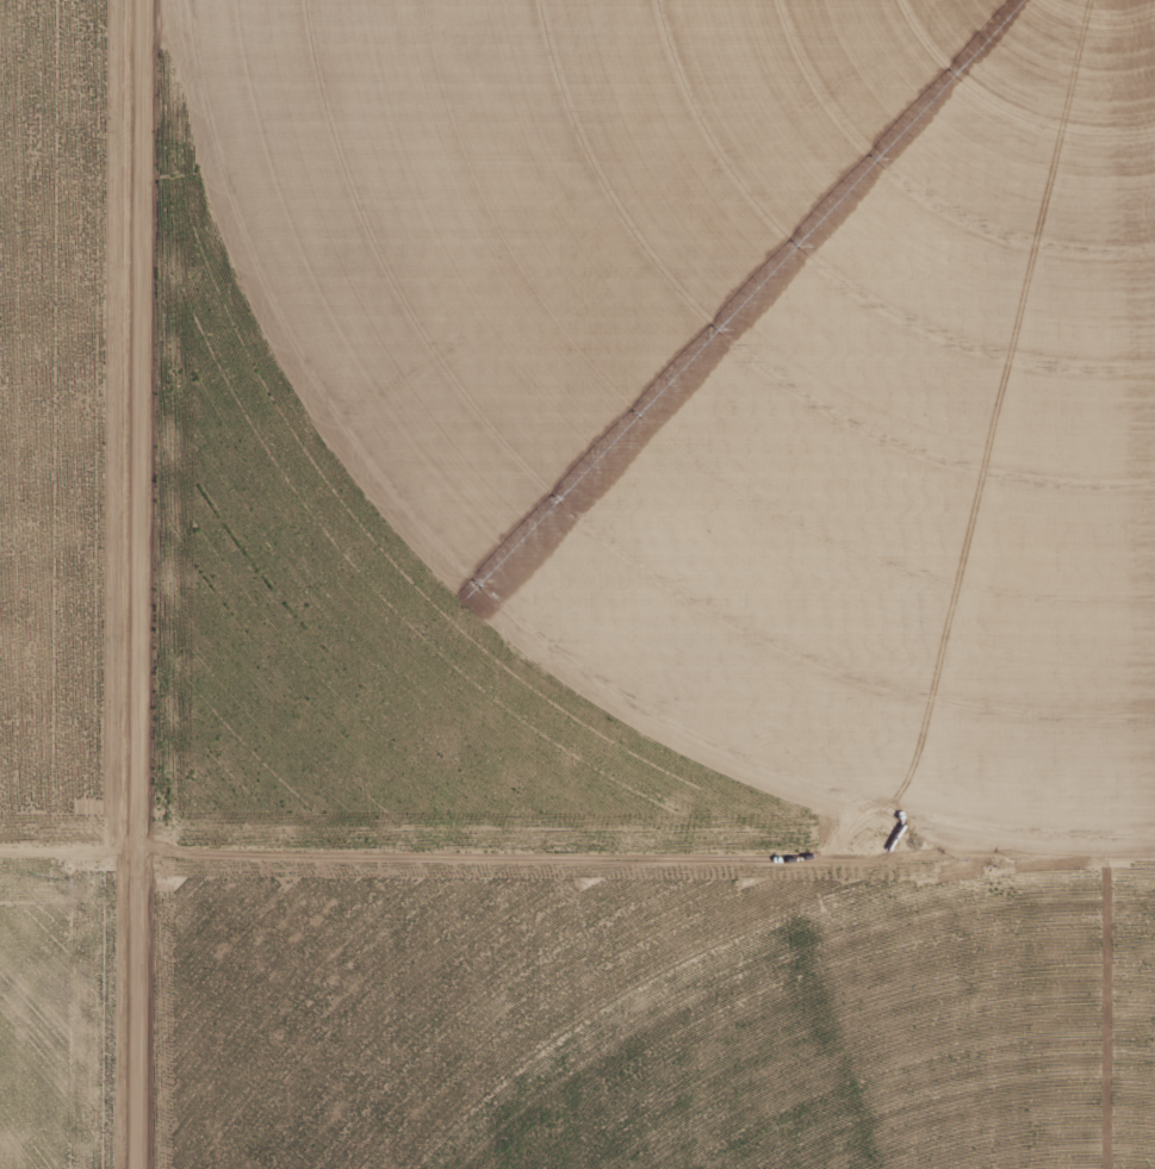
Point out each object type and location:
road: (103, 584)
road: (577, 860)

